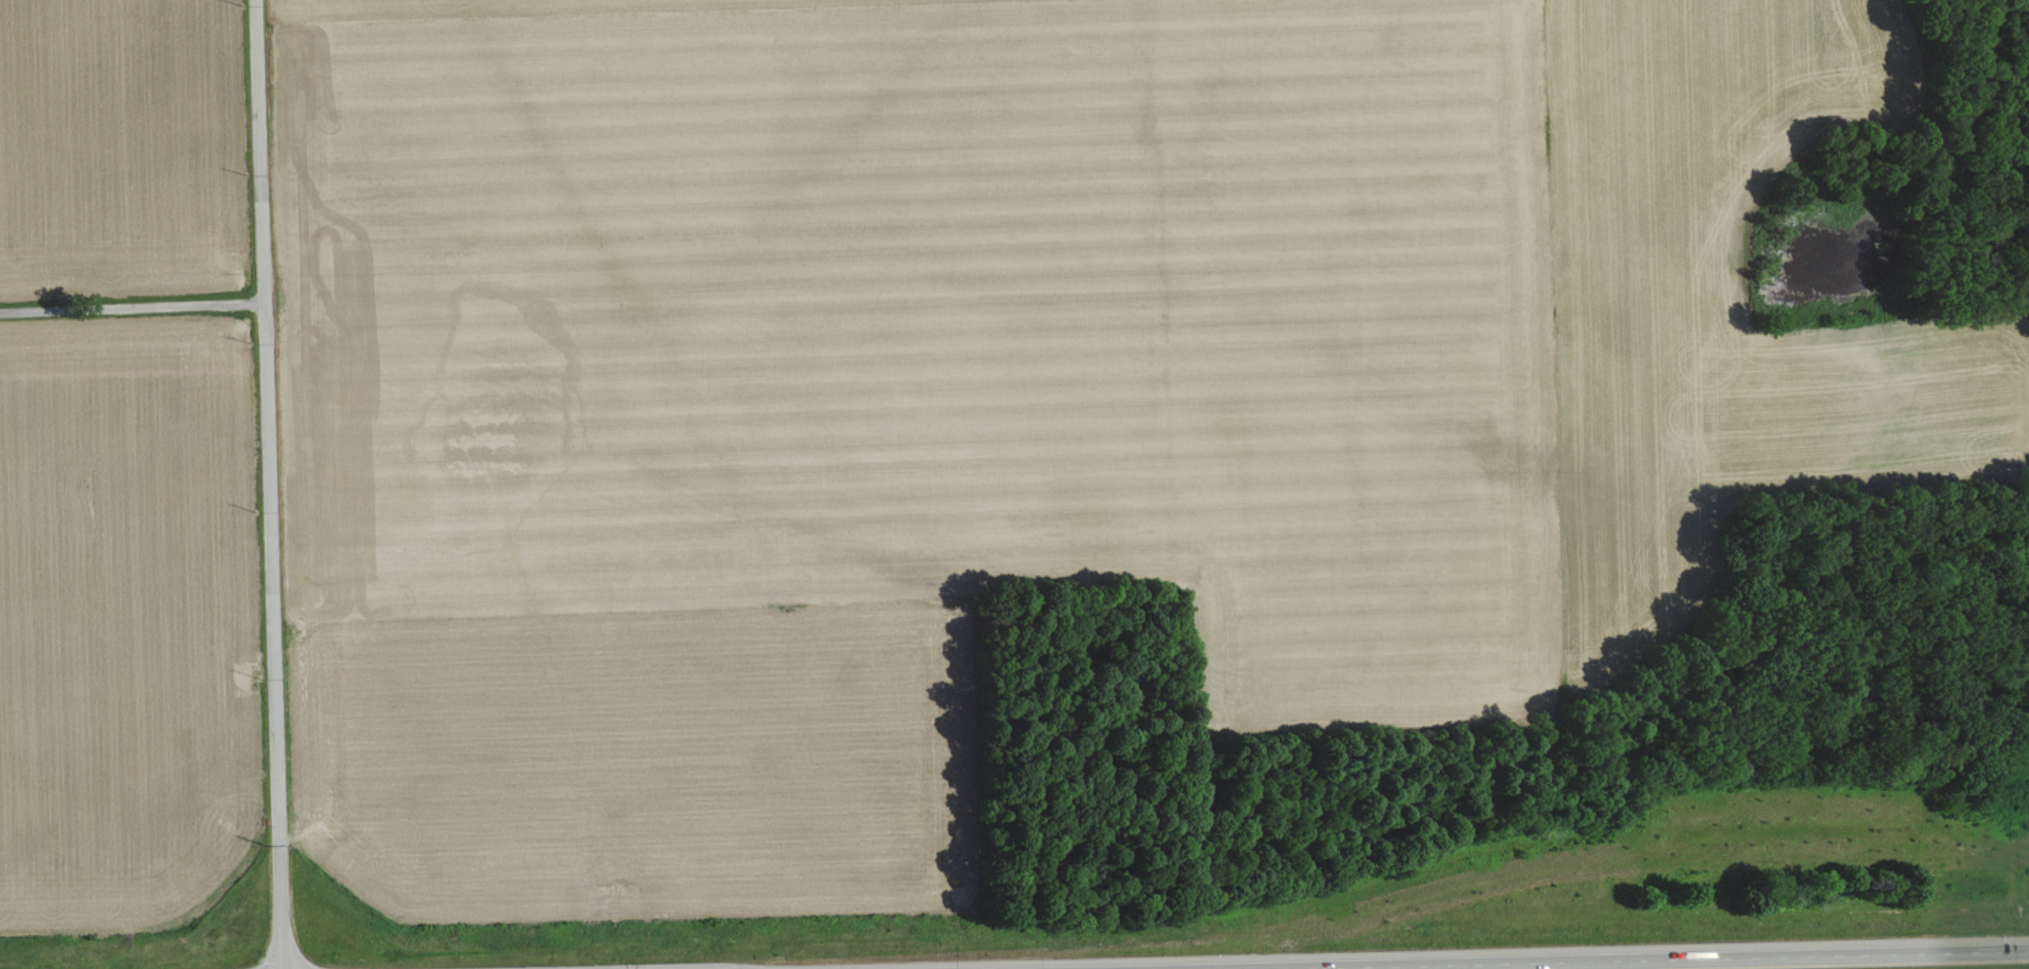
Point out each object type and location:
road: (269, 484)
road: (1636, 959)

